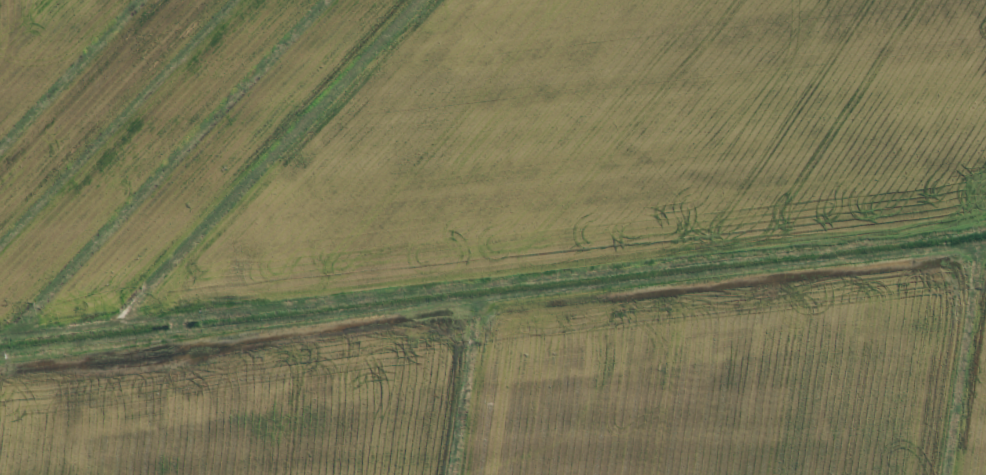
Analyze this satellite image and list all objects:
airport runway: (493, 250)

